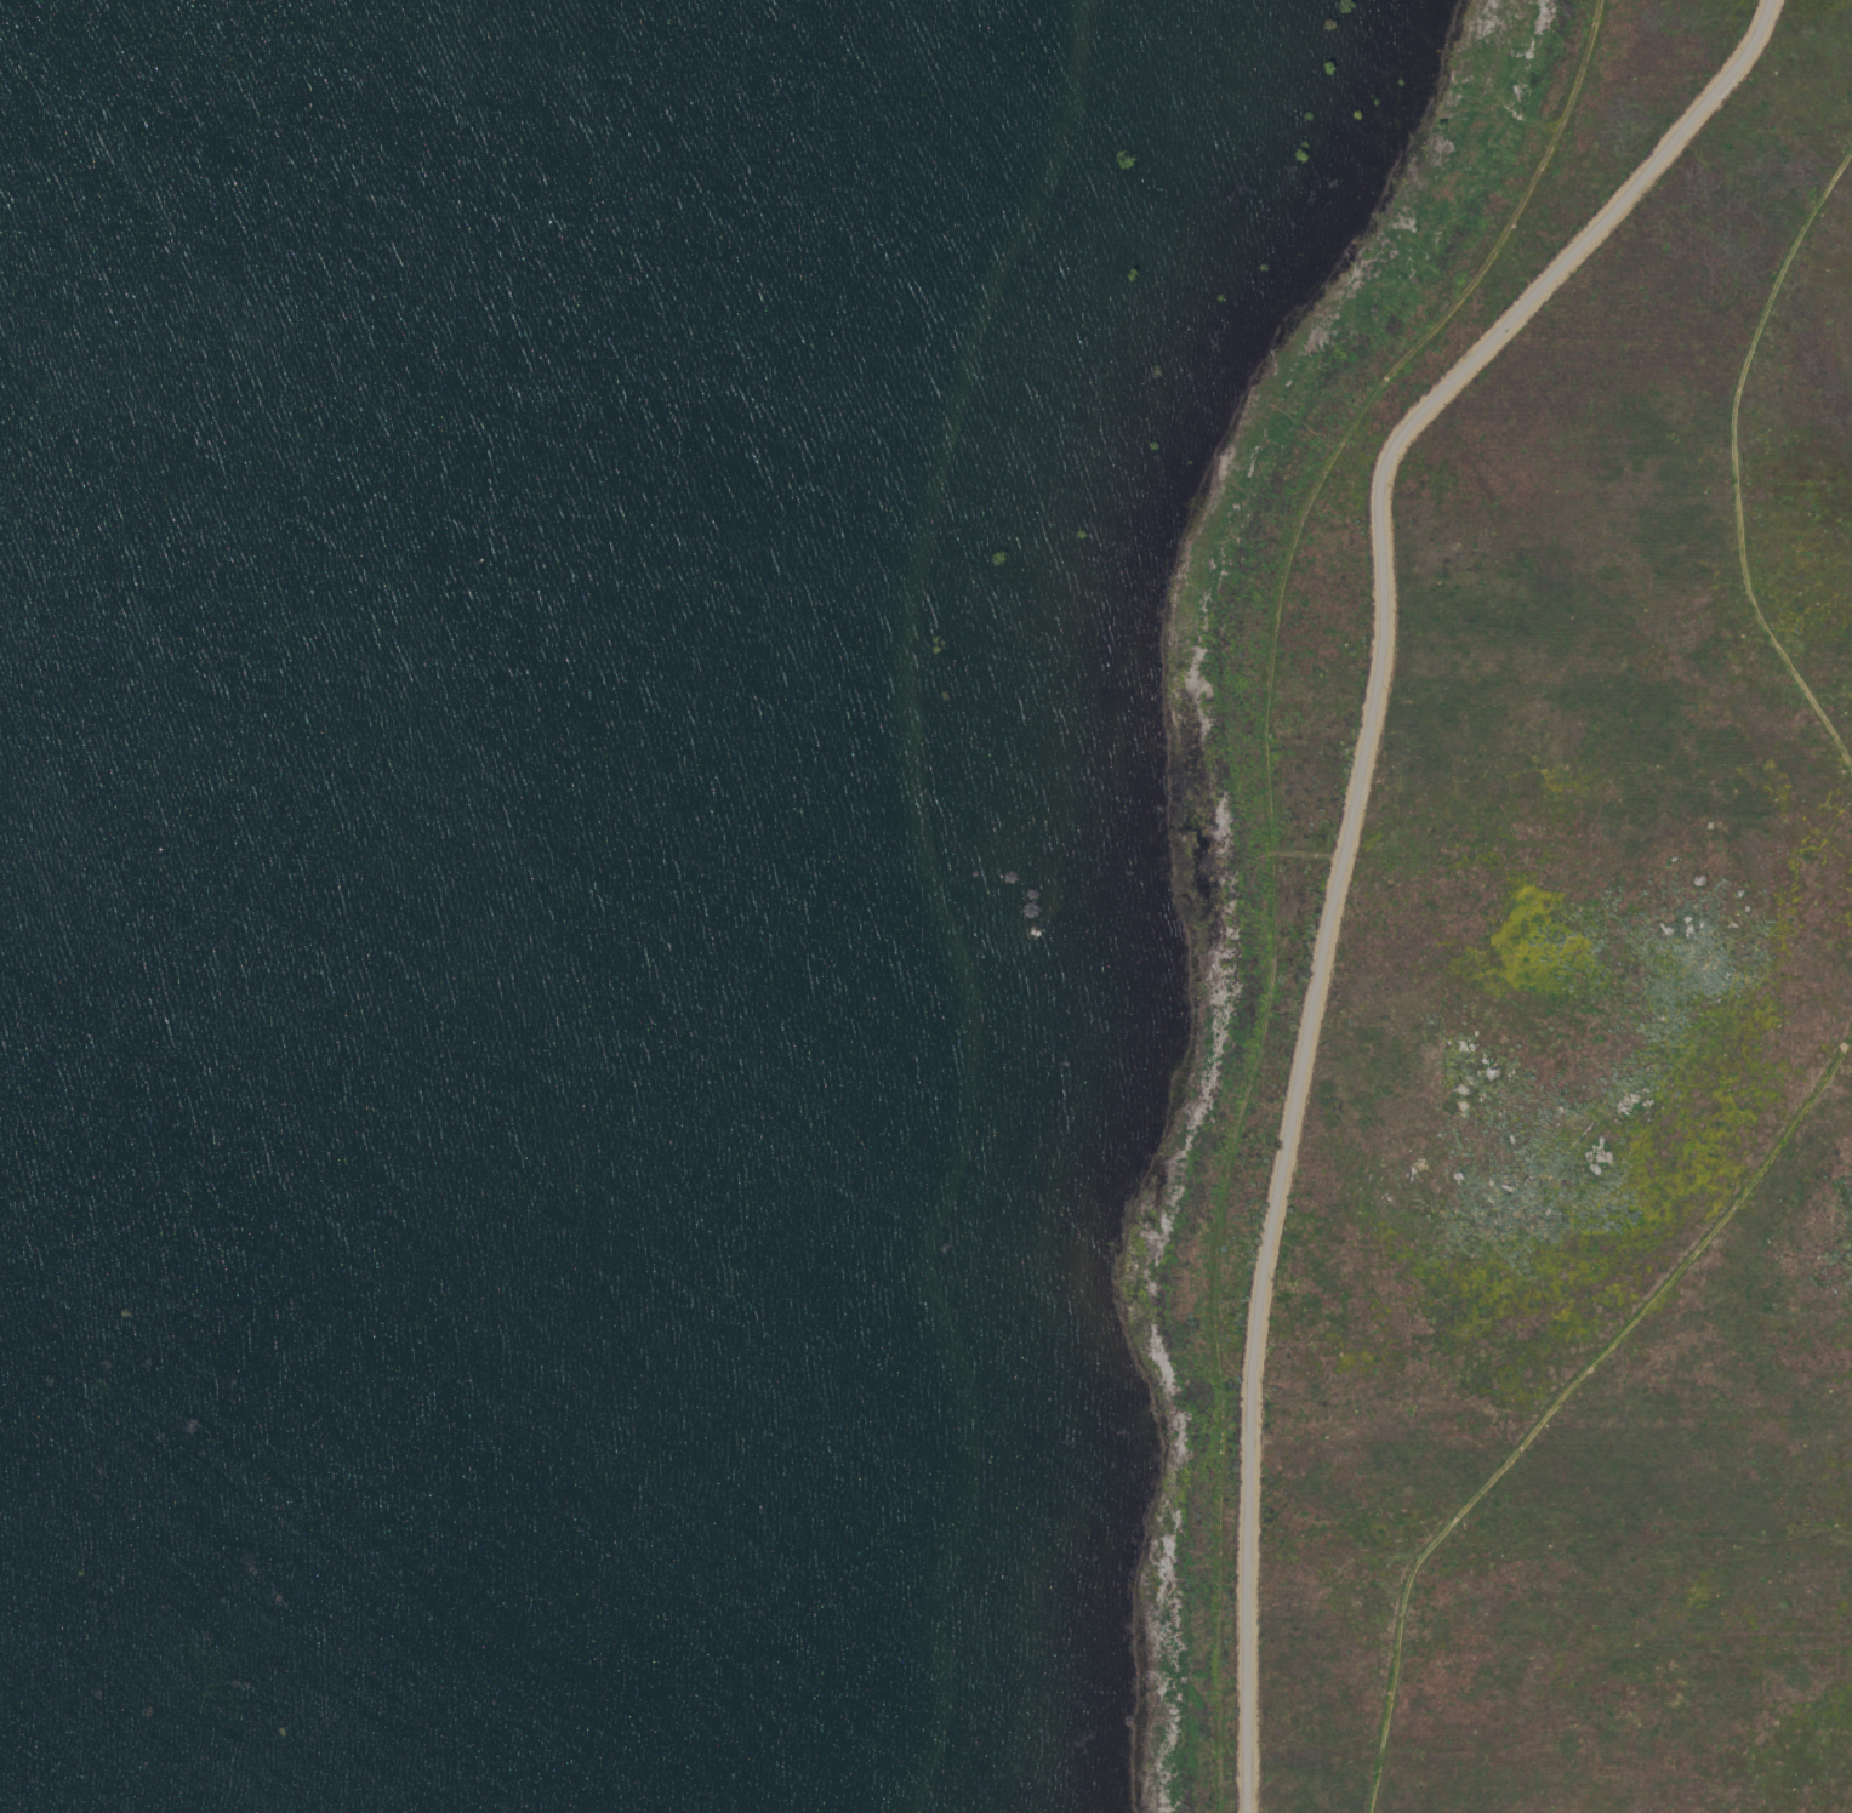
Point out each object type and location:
road: (1734, 462)
road: (1344, 837)
road: (1561, 1398)

